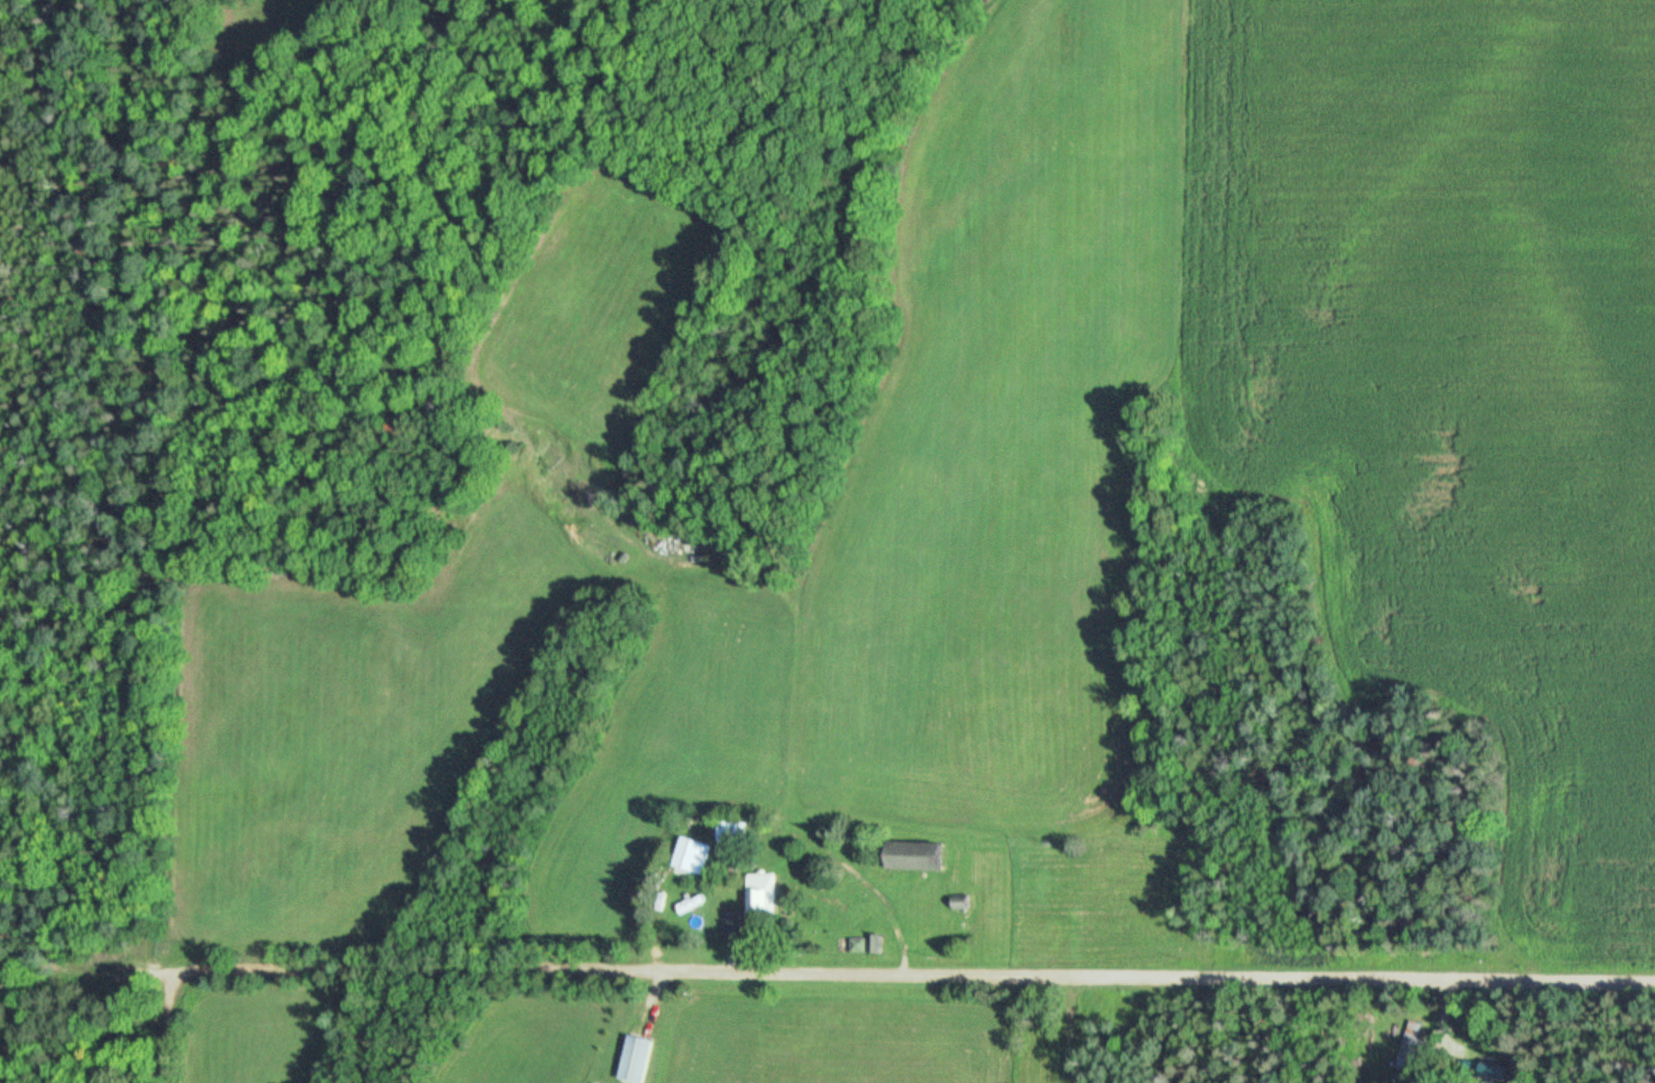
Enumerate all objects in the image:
building: (733, 833)
building: (692, 857)
building: (917, 857)
building: (763, 894)
building: (733, 923)
building: (869, 945)
road: (914, 974)
road: (163, 1028)
building: (1409, 1050)
building: (638, 1060)
building: (1495, 1073)

